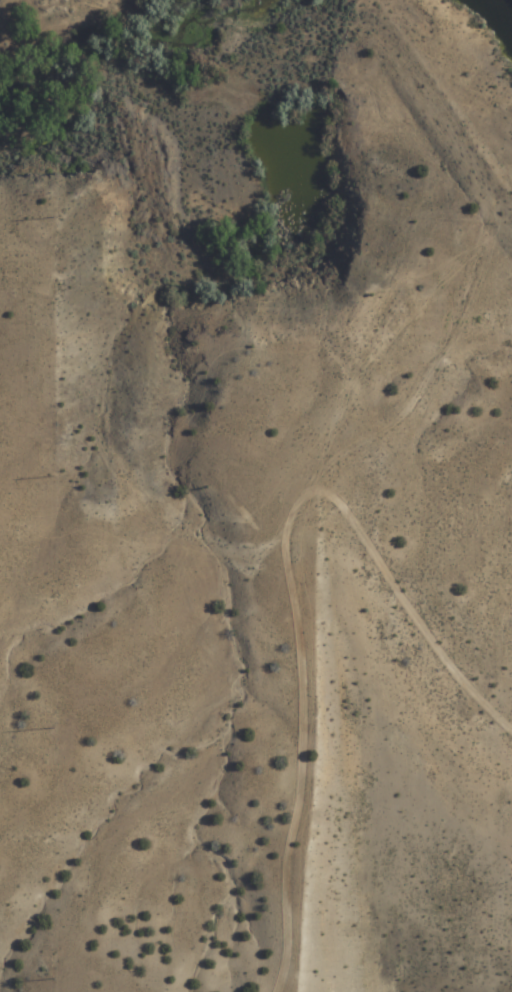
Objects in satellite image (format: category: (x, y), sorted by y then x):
river: (500, 12)
river: (104, 53)

